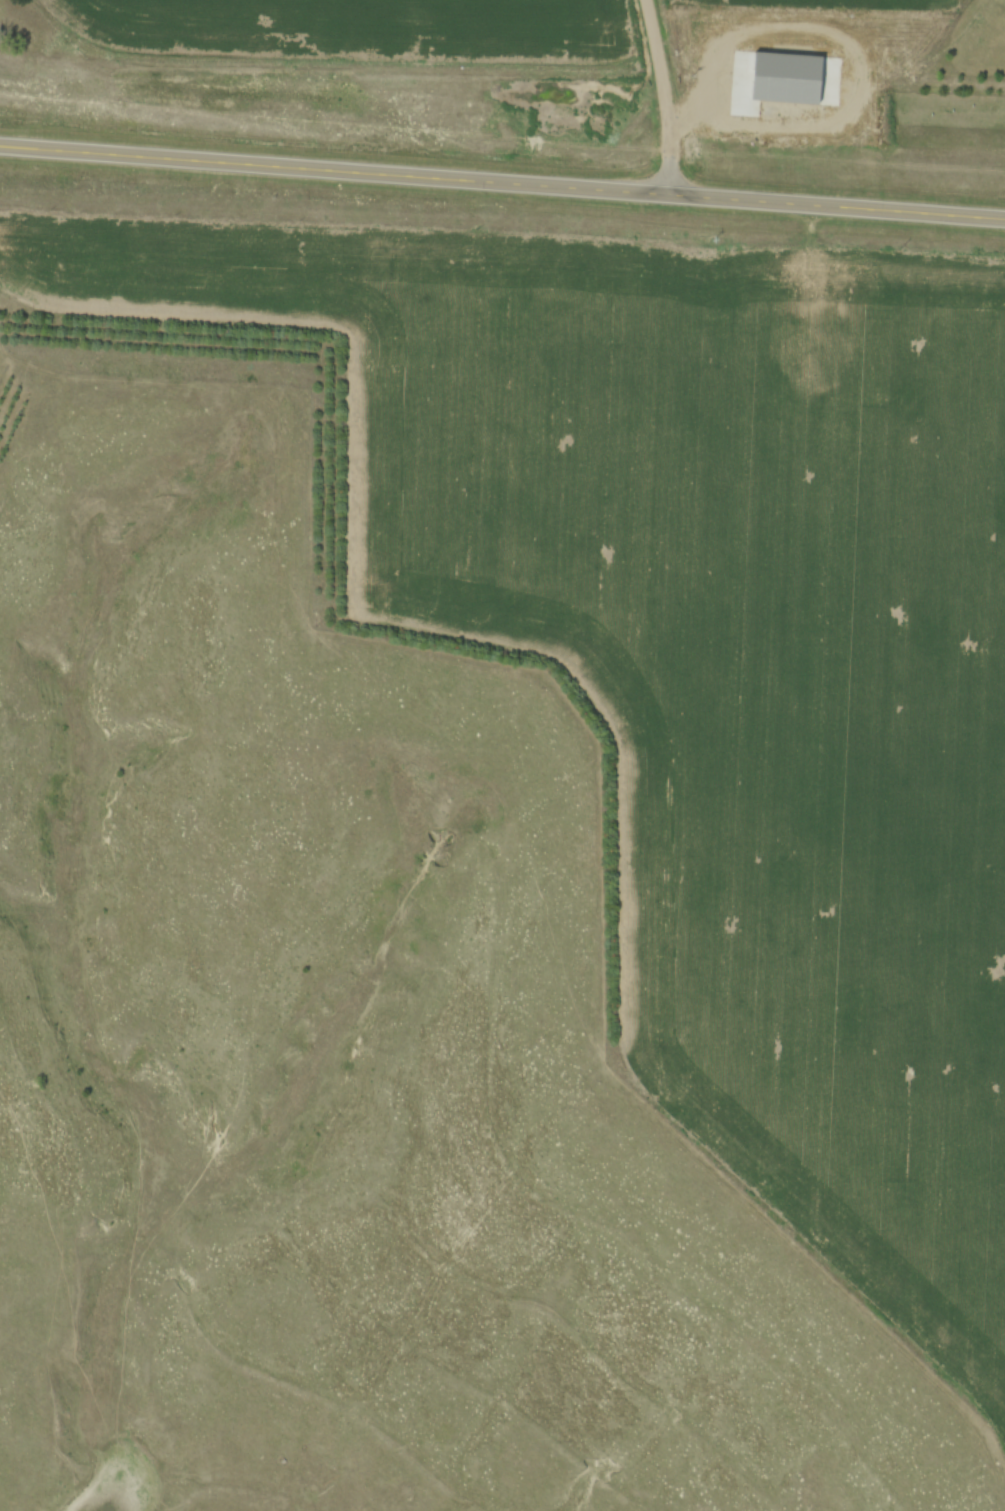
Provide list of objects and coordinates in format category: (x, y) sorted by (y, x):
airport: (494, 77)
road: (669, 96)
road: (502, 181)
crop: (715, 657)

